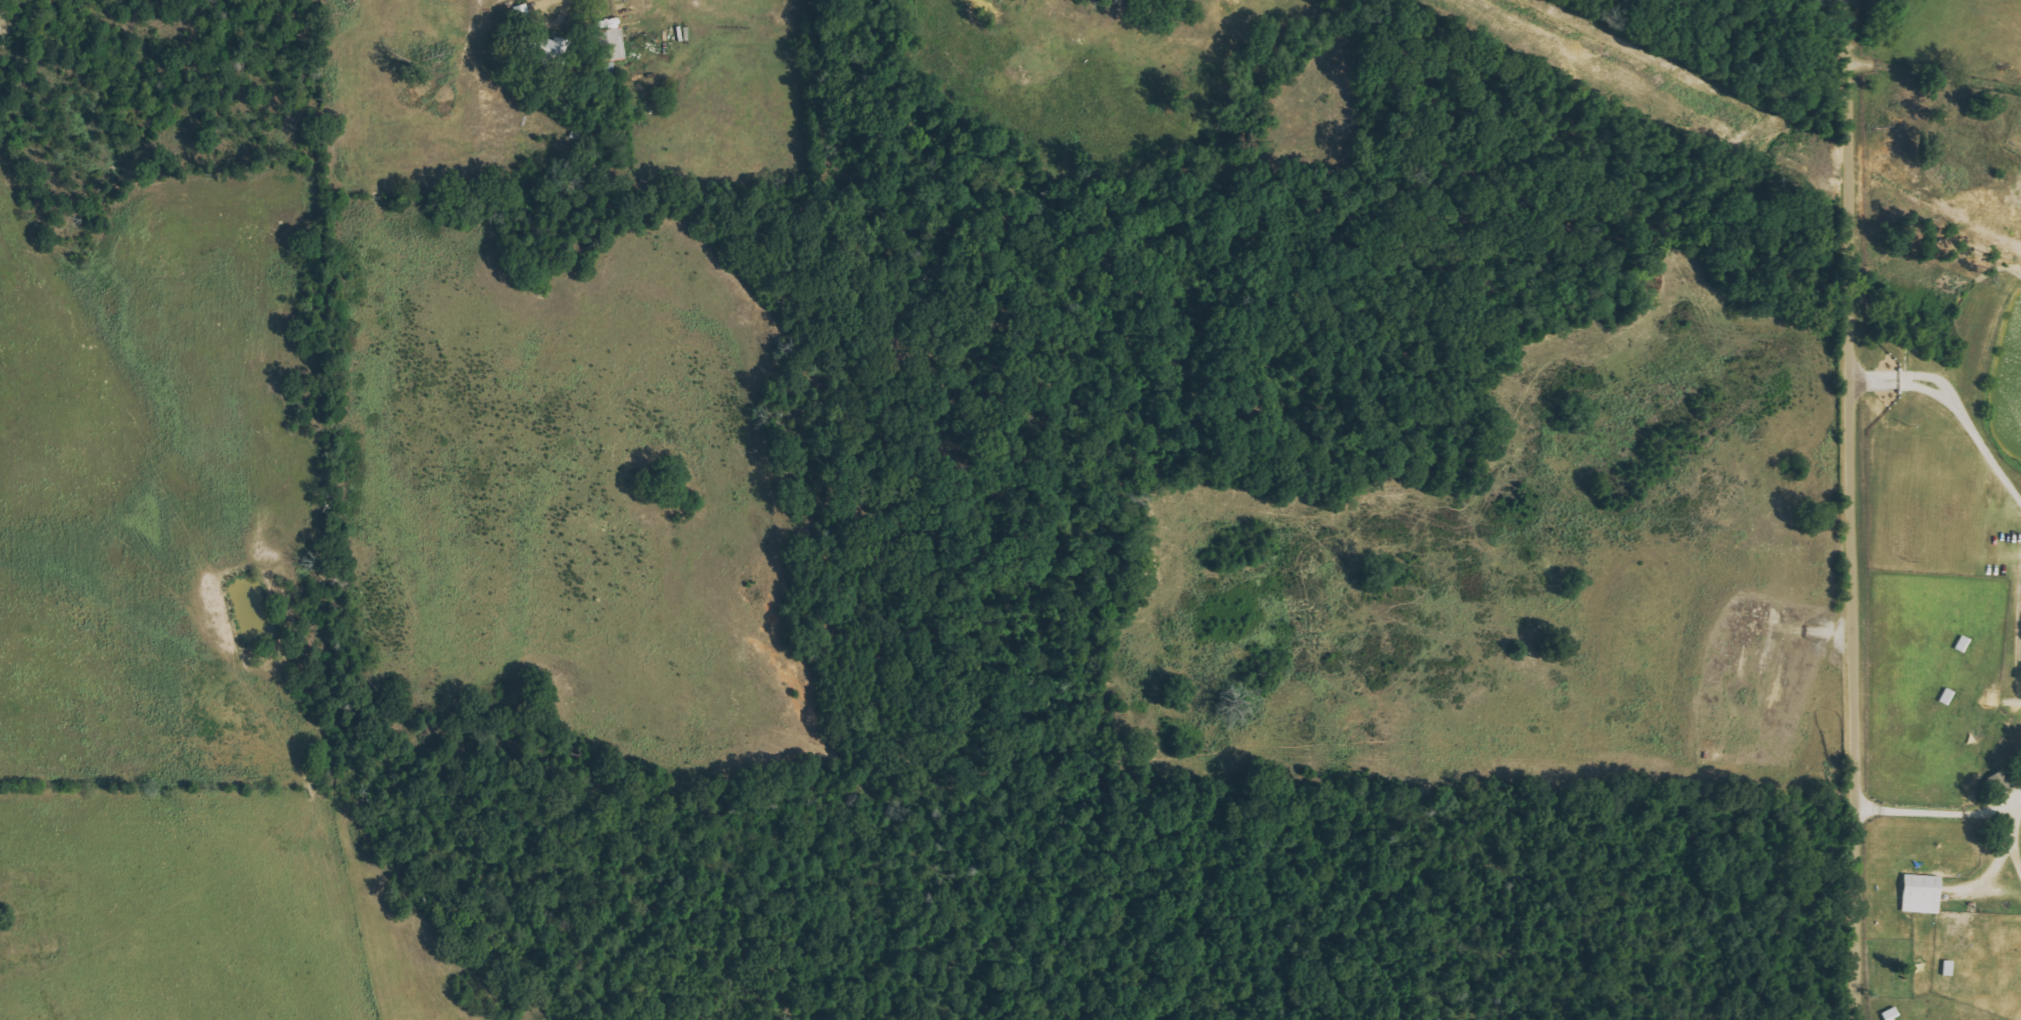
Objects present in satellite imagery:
road: (1956, 407)
road: (1852, 510)
road: (1943, 810)
building: (1917, 894)
park: (1889, 968)
building: (1945, 969)
building: (1887, 1015)

